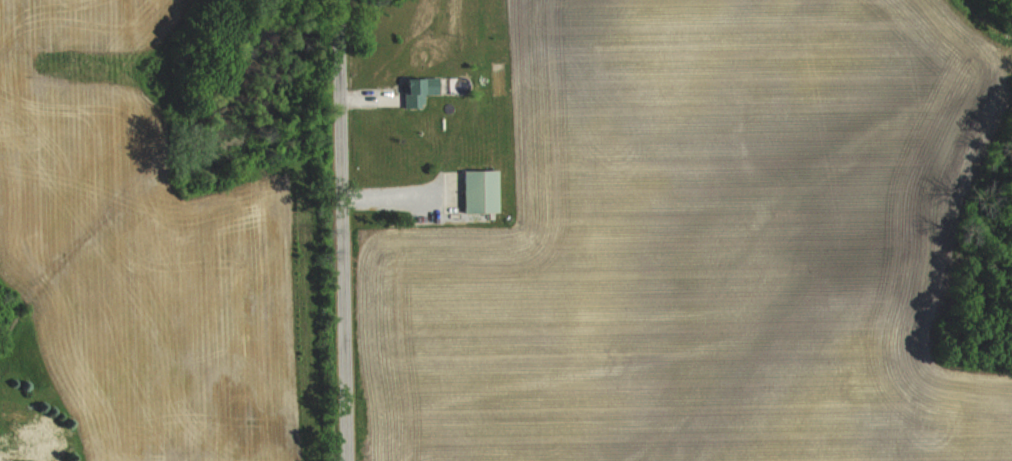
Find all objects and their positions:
road: (341, 230)
building: (52, 448)

